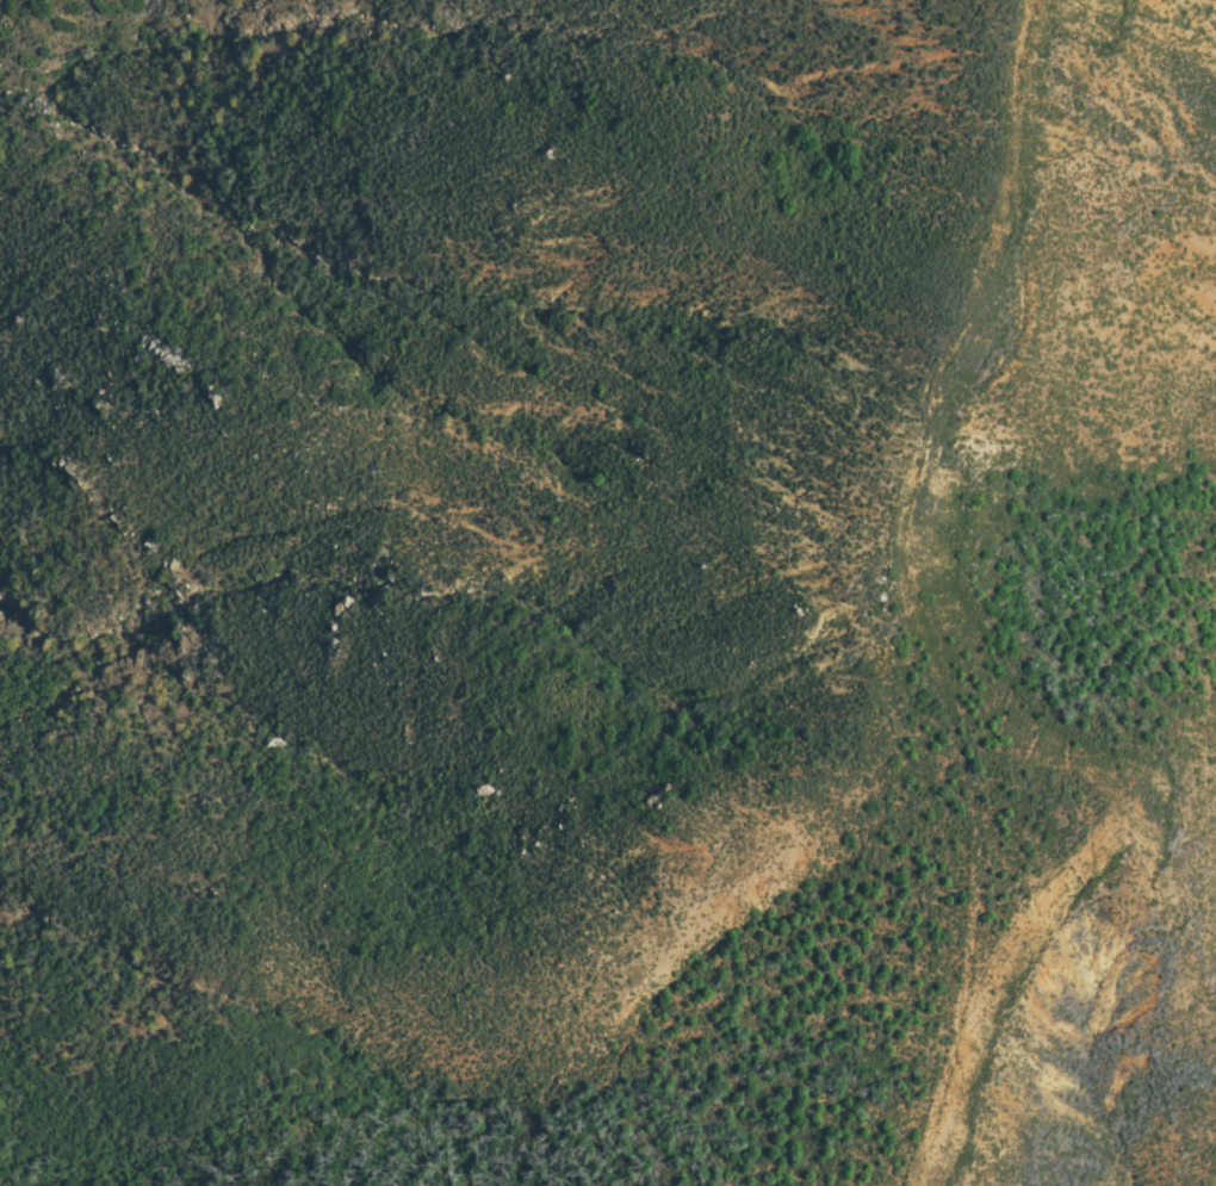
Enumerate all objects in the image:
road: (900, 578)

